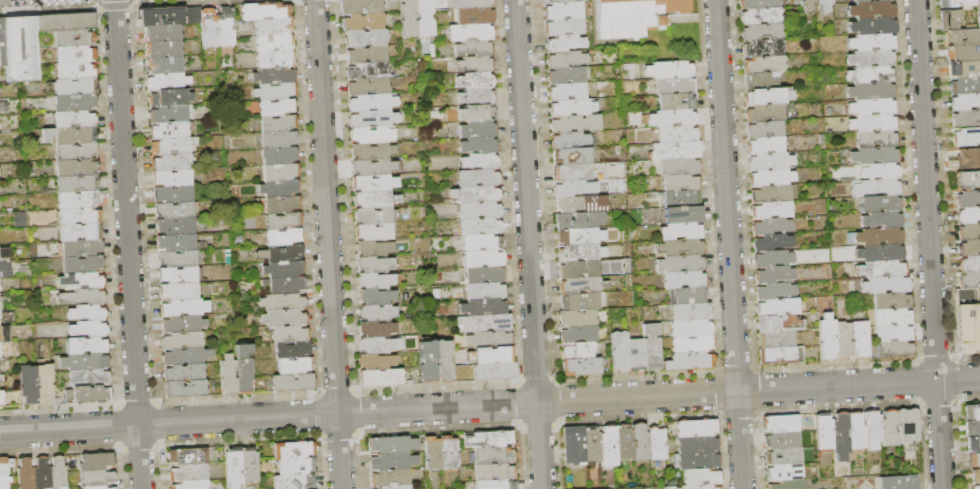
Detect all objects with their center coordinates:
building: (561, 1)
building: (868, 1)
building: (967, 3)
building: (468, 4)
building: (758, 4)
building: (948, 4)
building: (806, 5)
building: (822, 5)
building: (357, 6)
building: (872, 10)
building: (264, 11)
building: (563, 11)
building: (191, 14)
building: (473, 15)
building: (760, 15)
building: (160, 16)
building: (633, 16)
building: (423, 18)
building: (407, 19)
building: (949, 19)
building: (65, 22)
building: (359, 22)
building: (225, 26)
building: (273, 26)
building: (565, 26)
building: (872, 26)
building: (209, 28)
building: (470, 31)
building: (165, 32)
building: (761, 32)
building: (961, 37)
building: (75, 38)
building: (360, 38)
building: (273, 42)
building: (565, 42)
building: (2, 43)
building: (872, 43)
building: (473, 47)
building: (166, 48)
building: (761, 48)
building: (21, 49)
building: (75, 53)
building: (964, 53)
building: (364, 54)
building: (274, 58)
building: (566, 58)
building: (870, 58)
building: (474, 63)
building: (167, 64)
building: (762, 64)
building: (667, 69)
building: (76, 70)
building: (365, 70)
building: (567, 74)
building: (870, 74)
building: (275, 75)
building: (964, 77)
building: (168, 80)
building: (475, 80)
building: (763, 80)
building: (673, 85)
building: (367, 86)
building: (75, 87)
building: (566, 90)
building: (276, 91)
building: (872, 91)
building: (475, 96)
building: (170, 97)
building: (763, 97)
building: (786, 100)
building: (675, 101)
building: (75, 102)
building: (371, 102)
building: (964, 102)
building: (277, 106)
building: (568, 106)
building: (870, 107)
building: (171, 112)
building: (473, 112)
building: (764, 113)
building: (674, 117)
building: (372, 118)
building: (965, 118)
building: (74, 119)
building: (278, 122)
building: (573, 122)
building: (871, 123)
building: (172, 128)
building: (476, 128)
building: (765, 130)
building: (675, 133)
building: (370, 134)
building: (75, 135)
building: (966, 137)
building: (279, 139)
building: (570, 139)
building: (874, 139)
building: (477, 145)
building: (173, 146)
building: (764, 146)
building: (371, 150)
building: (673, 150)
building: (75, 151)
building: (280, 155)
building: (571, 156)
building: (874, 156)
building: (968, 159)
building: (478, 161)
building: (766, 161)
building: (174, 162)
building: (76, 166)
building: (372, 167)
building: (678, 167)
building: (281, 171)
building: (572, 172)
building: (875, 172)
building: (476, 177)
building: (176, 178)
building: (767, 178)
building: (967, 179)
building: (77, 182)
building: (372, 182)
building: (679, 183)
building: (573, 187)
building: (282, 188)
building: (876, 188)
building: (477, 193)
building: (175, 194)
building: (767, 195)
building: (680, 198)
building: (78, 199)
building: (373, 199)
building: (967, 200)
building: (282, 203)
building: (574, 203)
building: (877, 204)
building: (477, 209)
building: (173, 210)
building: (769, 211)
building: (373, 214)
building: (79, 215)
building: (680, 215)
building: (968, 216)
building: (595, 219)
building: (282, 220)
building: (879, 220)
building: (568, 221)
building: (480, 225)
building: (174, 226)
building: (769, 227)
building: (79, 231)
building: (682, 231)
building: (374, 232)
building: (968, 232)
building: (579, 236)
building: (880, 236)
building: (283, 237)
building: (175, 241)
building: (481, 242)
building: (770, 243)
road: (127, 244)
road: (327, 244)
road: (528, 244)
road: (728, 244)
road: (928, 244)
building: (80, 247)
building: (682, 247)
building: (968, 248)
building: (374, 249)
building: (580, 252)
building: (3, 253)
building: (284, 253)
building: (880, 253)
building: (175, 257)
building: (481, 258)
building: (771, 259)
building: (679, 263)
building: (81, 264)
building: (968, 264)
building: (375, 265)
building: (285, 268)
building: (881, 268)
building: (3, 269)
building: (579, 269)
building: (177, 275)
building: (482, 275)
building: (772, 275)
building: (682, 280)
building: (82, 281)
building: (376, 281)
building: (969, 281)
building: (883, 284)
building: (286, 285)
building: (580, 285)
building: (178, 291)
building: (485, 291)
building: (773, 292)
building: (685, 295)
building: (82, 297)
building: (377, 297)
building: (283, 301)
building: (580, 301)
building: (889, 301)
building: (179, 307)
building: (485, 307)
building: (774, 309)
building: (85, 311)
building: (686, 311)
building: (378, 313)
building: (282, 318)
building: (579, 318)
building: (890, 318)
building: (180, 323)
building: (979, 323)
building: (482, 324)
building: (775, 326)
building: (688, 327)
building: (87, 328)
building: (378, 329)
building: (969, 329)
building: (291, 334)
building: (580, 334)
building: (891, 334)
building: (0, 337)
building: (181, 340)
building: (487, 340)
building: (841, 340)
building: (858, 340)
building: (776, 341)
building: (825, 341)
building: (690, 343)
building: (379, 345)
building: (86, 346)
building: (892, 349)
building: (292, 350)
building: (0, 351)
building: (581, 351)
building: (617, 352)
building: (650, 354)
building: (634, 355)
building: (182, 356)
building: (776, 356)
building: (490, 357)
road: (966, 357)
road: (934, 359)
building: (378, 361)
building: (690, 361)
building: (86, 362)
building: (427, 362)
building: (444, 362)
building: (1, 366)
building: (295, 366)
building: (582, 368)
building: (183, 372)
building: (234, 374)
building: (493, 374)
building: (380, 377)
building: (86, 378)
road: (953, 378)
road: (918, 381)
building: (291, 383)
building: (44, 384)
building: (28, 385)
building: (184, 389)
building: (86, 395)
building: (0, 398)
road: (967, 399)
road: (937, 401)
road: (490, 405)
building: (971, 412)
building: (779, 425)
building: (695, 426)
building: (906, 426)
building: (971, 428)
building: (887, 430)
building: (871, 432)
building: (822, 433)
building: (855, 434)
building: (839, 435)
building: (487, 436)
building: (639, 439)
building: (623, 440)
building: (655, 440)
building: (780, 440)
building: (391, 441)
building: (695, 441)
building: (572, 443)
building: (591, 444)
road: (957, 444)
building: (974, 445)
building: (607, 446)
road: (922, 446)
building: (293, 447)
building: (448, 451)
building: (432, 452)
building: (492, 452)
building: (188, 454)
building: (782, 456)
building: (392, 457)
building: (696, 458)
building: (95, 460)
building: (974, 460)
building: (248, 463)
building: (295, 463)
building: (2, 464)
building: (232, 464)
building: (493, 468)
building: (188, 470)
building: (40, 472)
building: (56, 472)
building: (699, 473)
building: (783, 473)
building: (24, 474)
building: (388, 474)
building: (96, 475)
building: (974, 477)
building: (3, 479)
building: (294, 480)
building: (494, 482)
building: (896, 482)
building: (189, 483)
building: (96, 485)
building: (389, 485)
building: (693, 485)
building: (784, 485)
building: (975, 487)
building: (3, 488)
building: (306, 488)
building: (597, 488)

